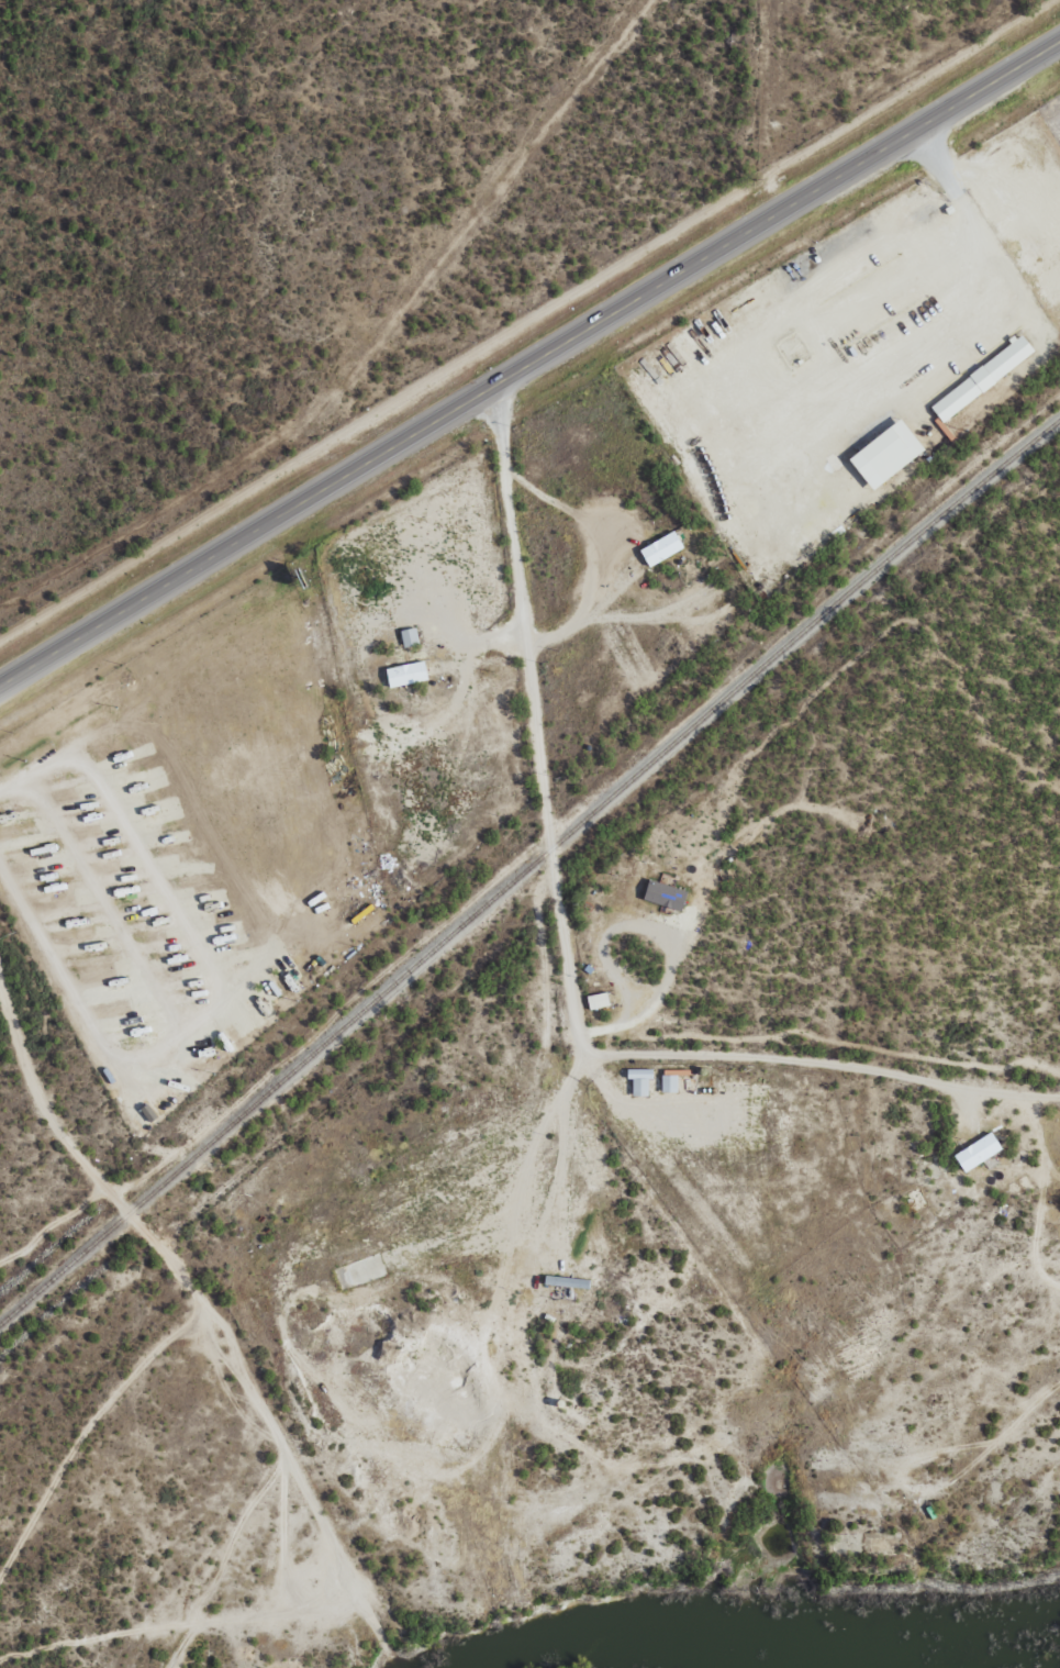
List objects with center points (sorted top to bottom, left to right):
road: (526, 362)
building: (982, 378)
building: (886, 454)
building: (661, 548)
building: (409, 637)
building: (406, 675)
railway: (528, 864)
building: (665, 896)
building: (598, 1001)
road: (824, 1063)
building: (639, 1081)
building: (669, 1085)
building: (978, 1153)
building: (567, 1282)
road: (484, 1319)
river: (618, 1638)

